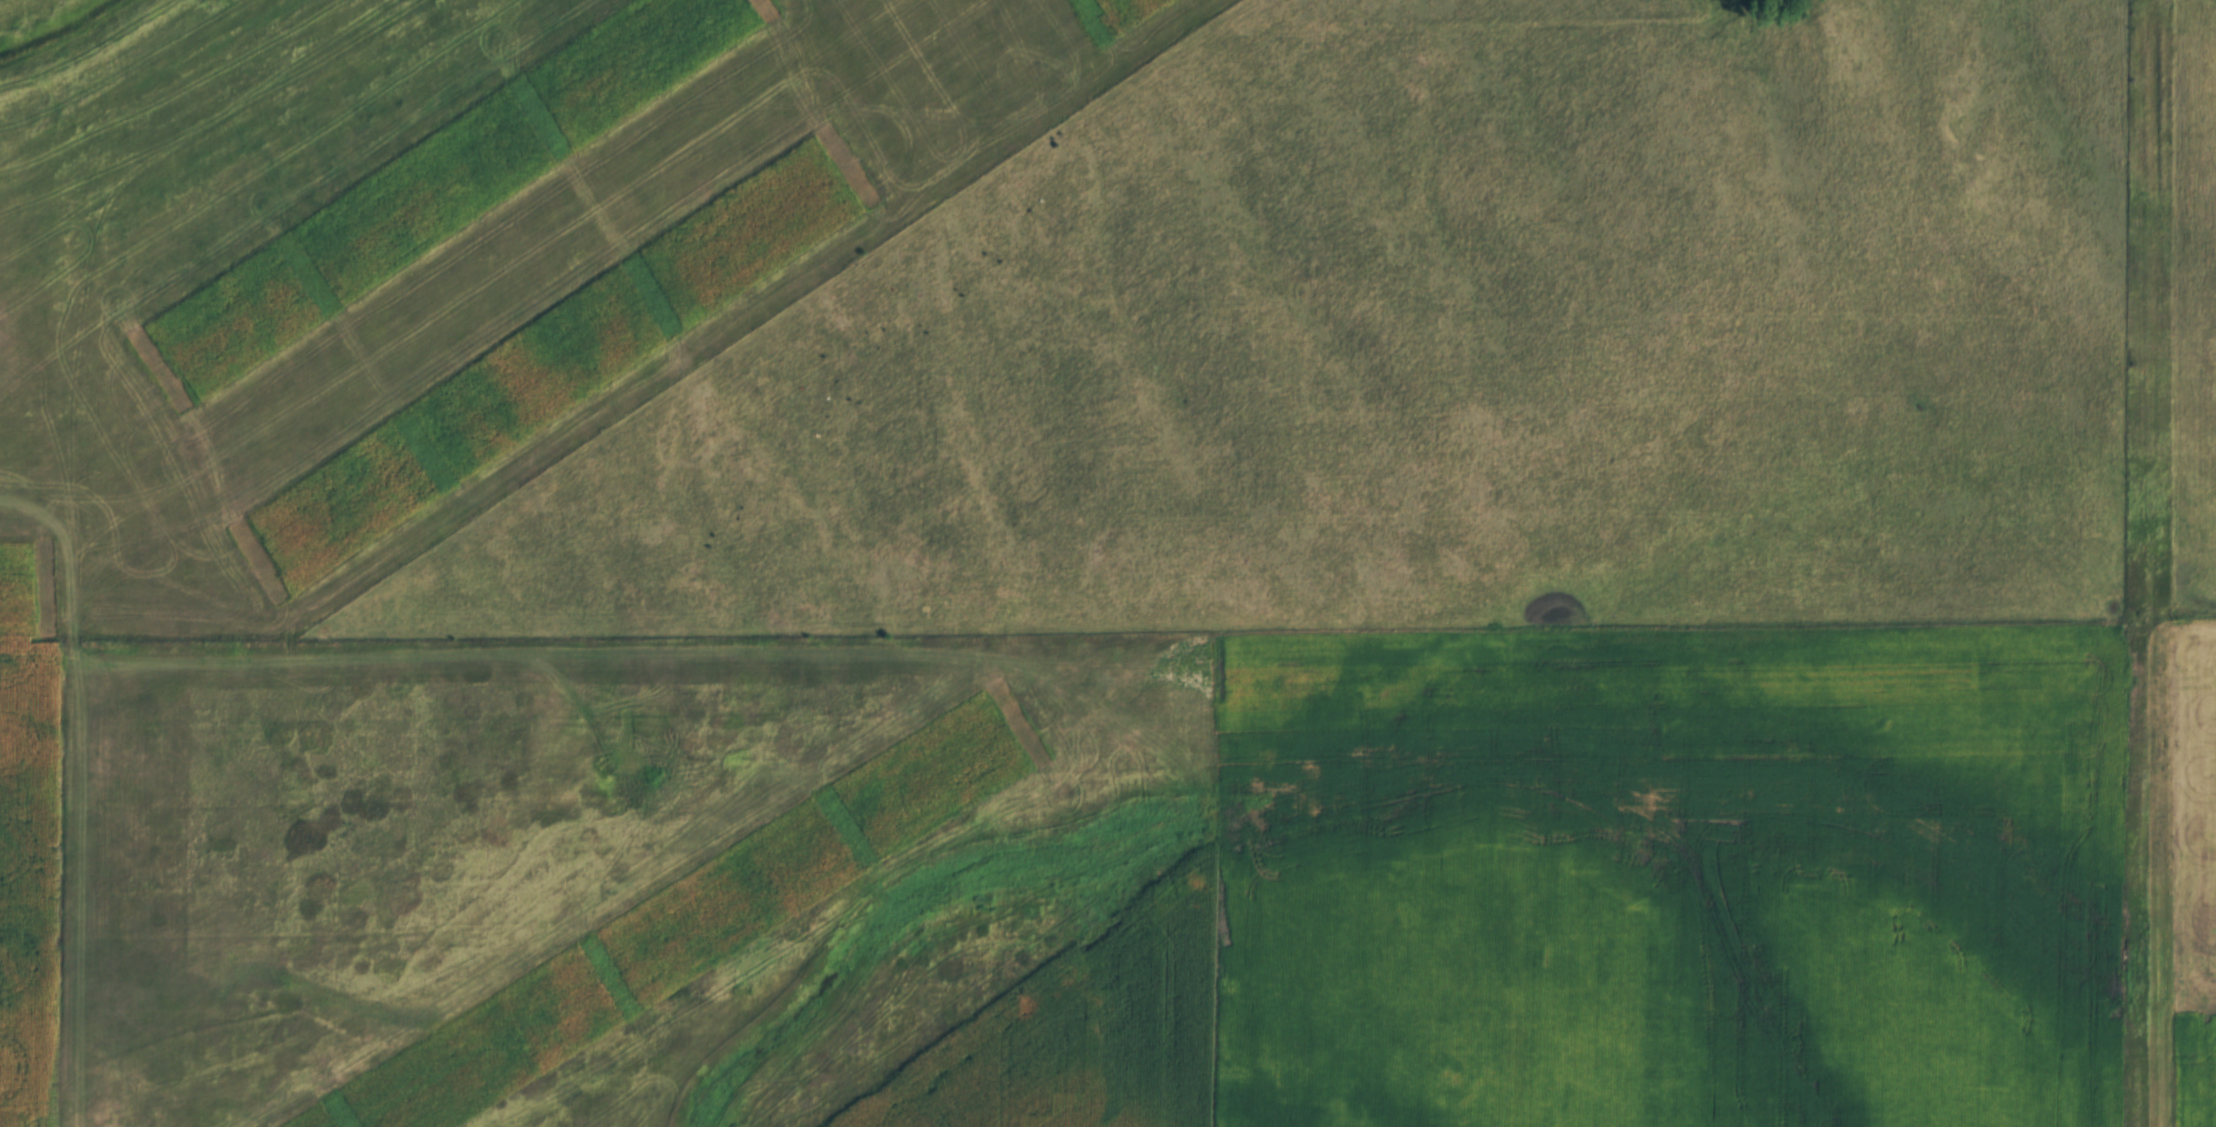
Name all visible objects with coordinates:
road: (2188, 880)

